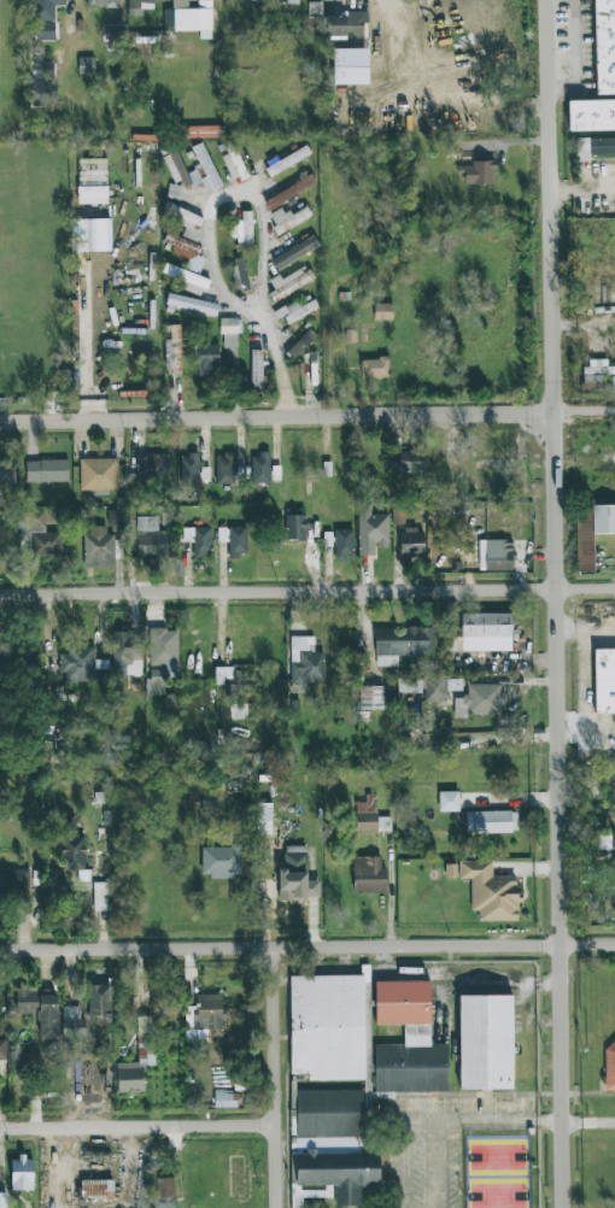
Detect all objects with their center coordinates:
building: (292, 1)
building: (143, 2)
building: (101, 4)
building: (45, 18)
building: (191, 19)
building: (346, 24)
building: (314, 25)
building: (115, 37)
road: (394, 40)
building: (604, 46)
road: (573, 57)
building: (86, 65)
building: (42, 71)
building: (40, 94)
building: (591, 115)
building: (203, 131)
building: (594, 147)
building: (287, 160)
building: (193, 169)
building: (90, 172)
building: (478, 172)
road: (585, 184)
building: (289, 192)
building: (92, 195)
road: (551, 205)
building: (182, 215)
building: (242, 230)
building: (90, 235)
building: (186, 251)
building: (294, 252)
building: (239, 274)
building: (187, 278)
building: (289, 282)
building: (192, 304)
building: (295, 311)
building: (382, 311)
road: (246, 312)
building: (229, 333)
road: (84, 338)
building: (300, 344)
building: (172, 348)
building: (207, 359)
building: (375, 368)
road: (288, 369)
building: (256, 370)
building: (597, 374)
road: (584, 410)
road: (276, 417)
building: (408, 461)
building: (151, 467)
building: (259, 468)
building: (189, 469)
building: (224, 469)
building: (46, 470)
building: (6, 471)
building: (98, 474)
building: (295, 524)
building: (370, 529)
building: (591, 532)
building: (40, 534)
building: (150, 539)
building: (234, 540)
building: (411, 541)
building: (201, 543)
building: (342, 544)
building: (100, 549)
building: (494, 555)
road: (307, 591)
road: (586, 628)
building: (485, 632)
building: (402, 644)
building: (163, 650)
building: (125, 653)
building: (305, 659)
building: (77, 664)
building: (604, 680)
building: (157, 682)
road: (591, 682)
building: (409, 685)
building: (434, 688)
building: (370, 698)
building: (479, 700)
building: (239, 711)
road: (586, 734)
building: (447, 802)
road: (560, 809)
building: (5, 813)
building: (367, 816)
building: (491, 822)
building: (605, 842)
building: (72, 848)
building: (221, 862)
building: (368, 874)
building: (295, 876)
building: (14, 879)
building: (614, 881)
building: (268, 889)
building: (491, 892)
building: (100, 897)
road: (307, 946)
building: (99, 1004)
building: (37, 1010)
building: (204, 1020)
building: (71, 1022)
building: (327, 1027)
building: (485, 1042)
building: (405, 1044)
building: (2, 1050)
building: (609, 1067)
road: (275, 1077)
building: (224, 1099)
road: (474, 1121)
road: (139, 1127)
building: (333, 1144)
road: (453, 1165)
road: (63, 1168)
building: (22, 1173)
building: (96, 1190)
building: (164, 1192)

